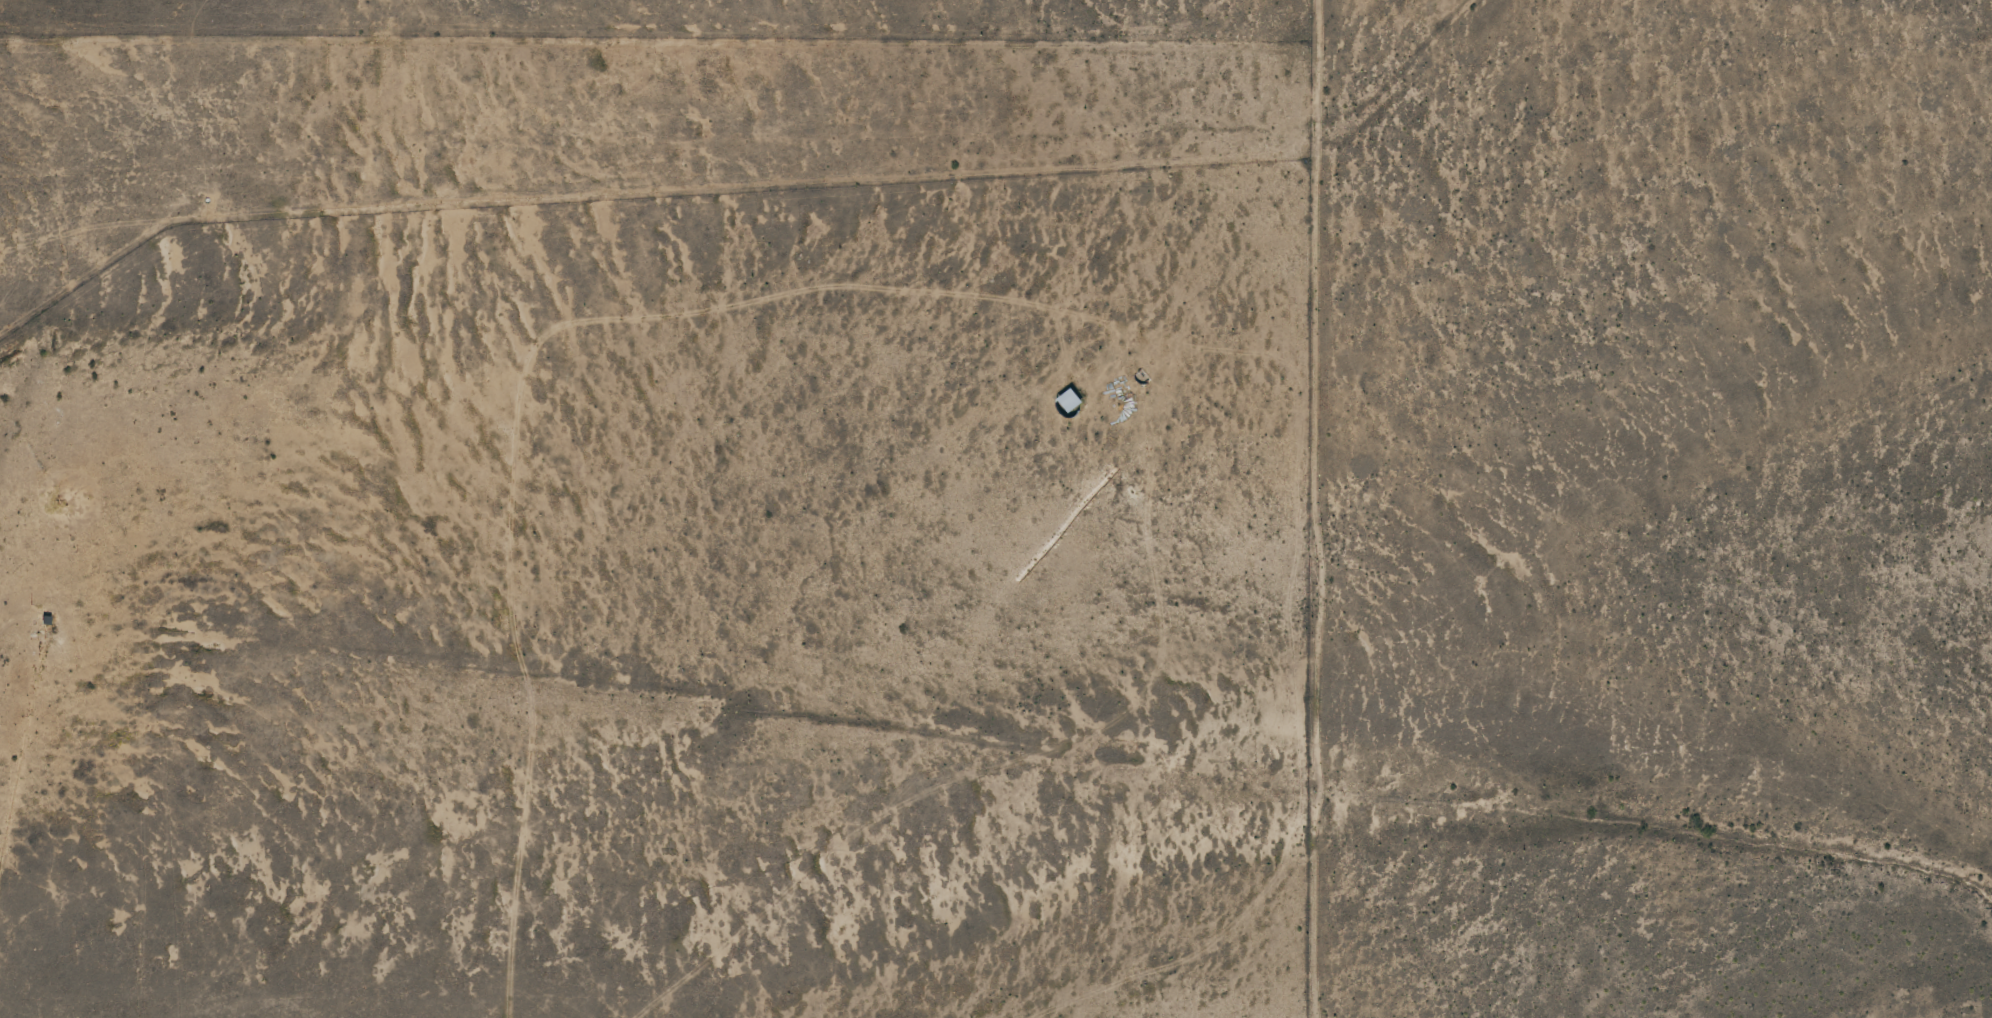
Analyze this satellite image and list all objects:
road: (1812, 779)

